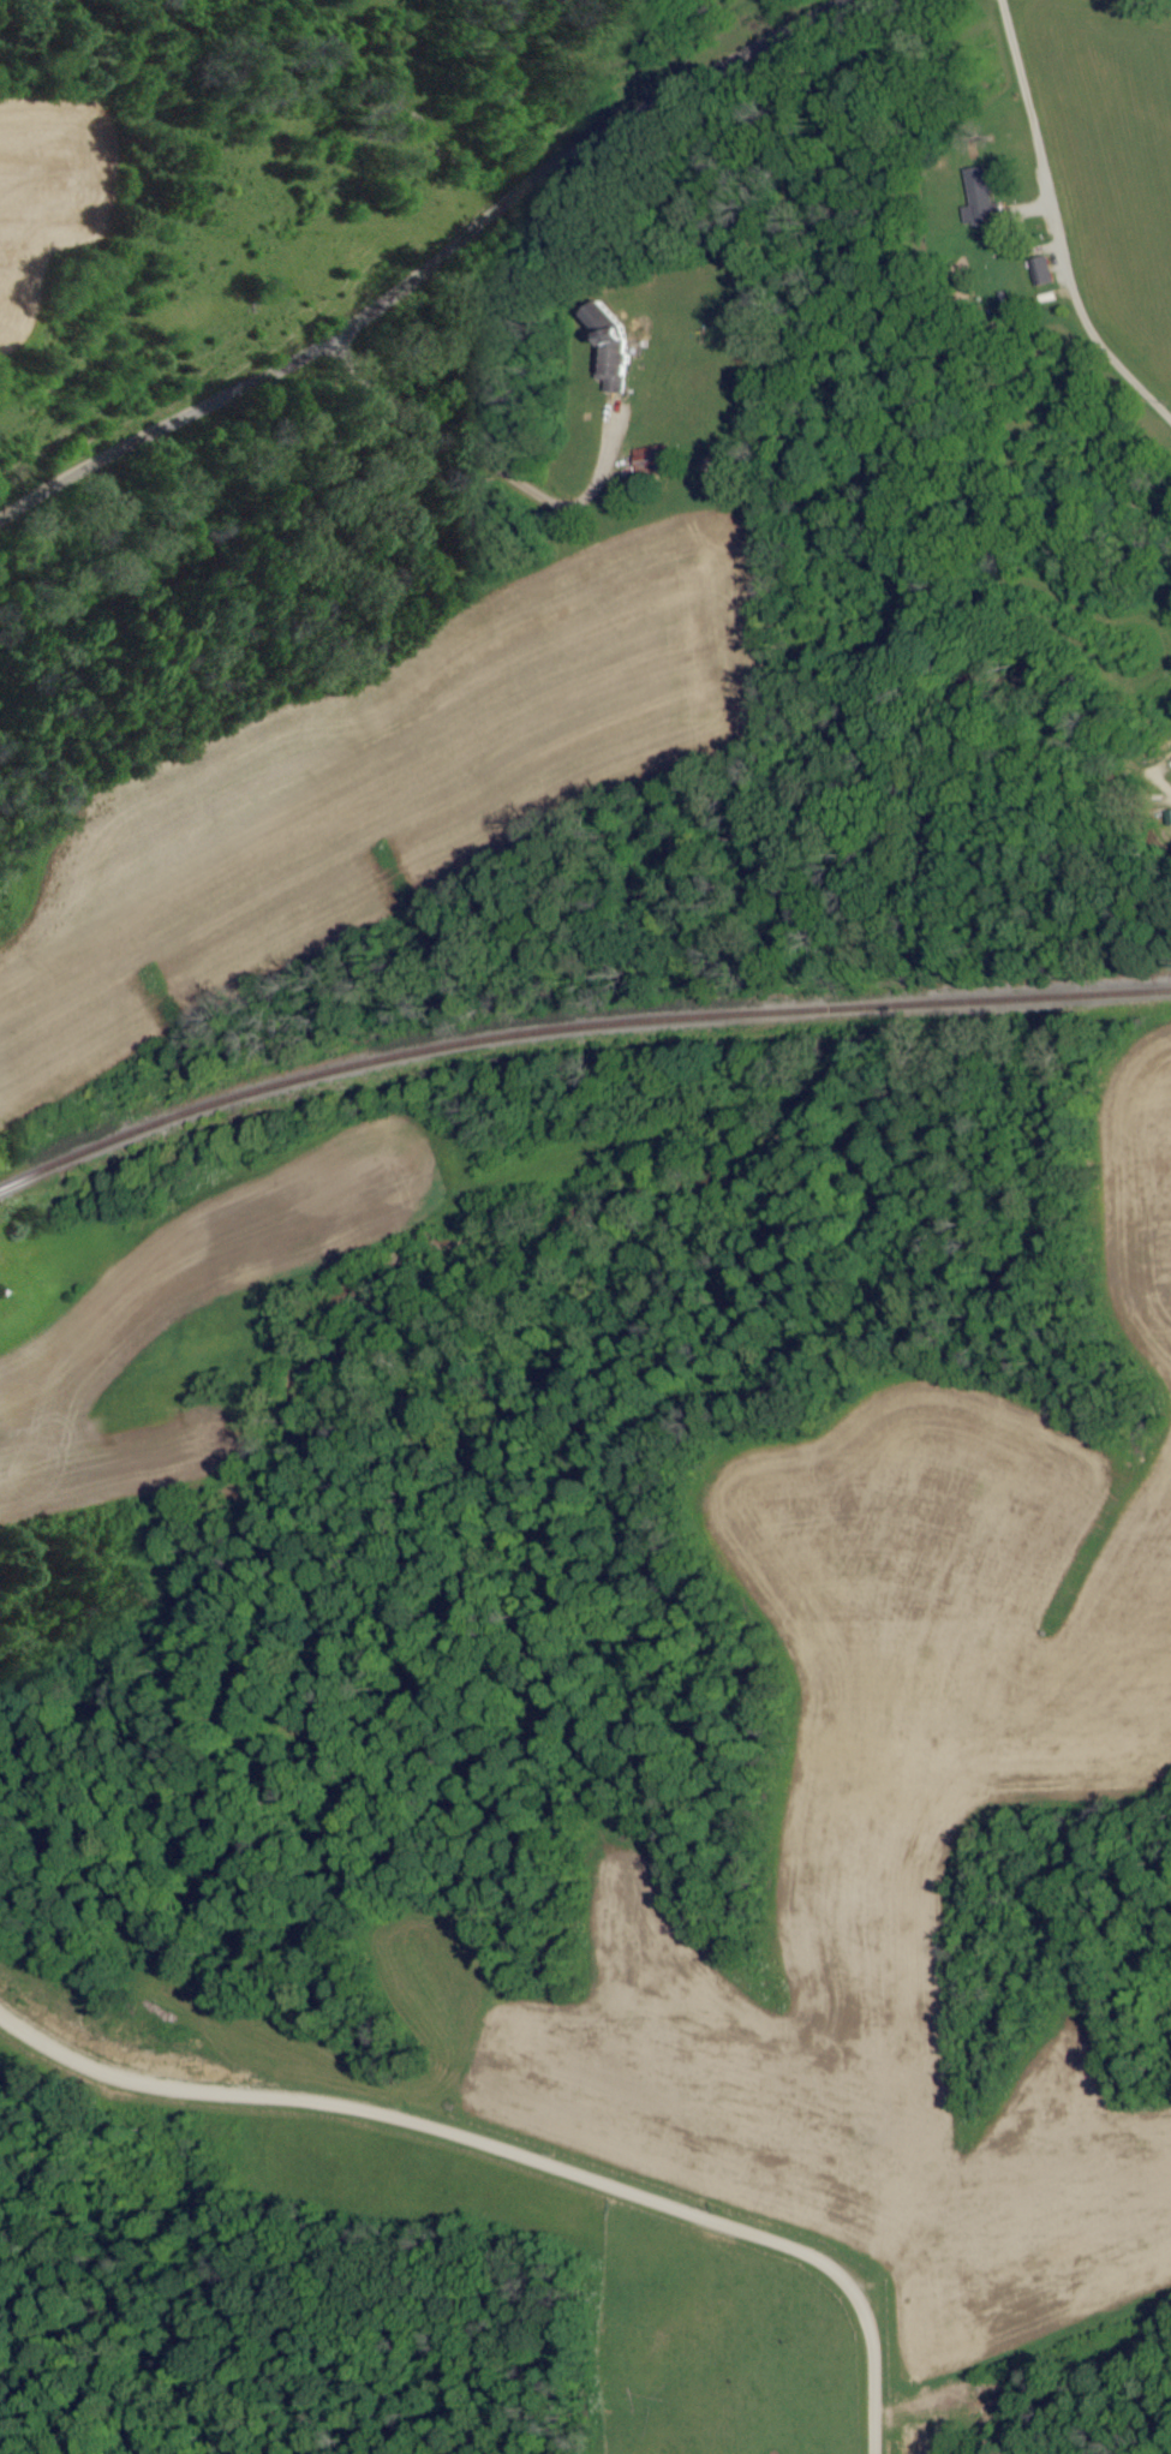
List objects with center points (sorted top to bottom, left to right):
building: (984, 201)
road: (1032, 225)
road: (423, 269)
building: (1045, 271)
building: (623, 360)
building: (656, 459)
road: (491, 462)
railway: (573, 1025)
road: (496, 2118)
road: (913, 2416)

